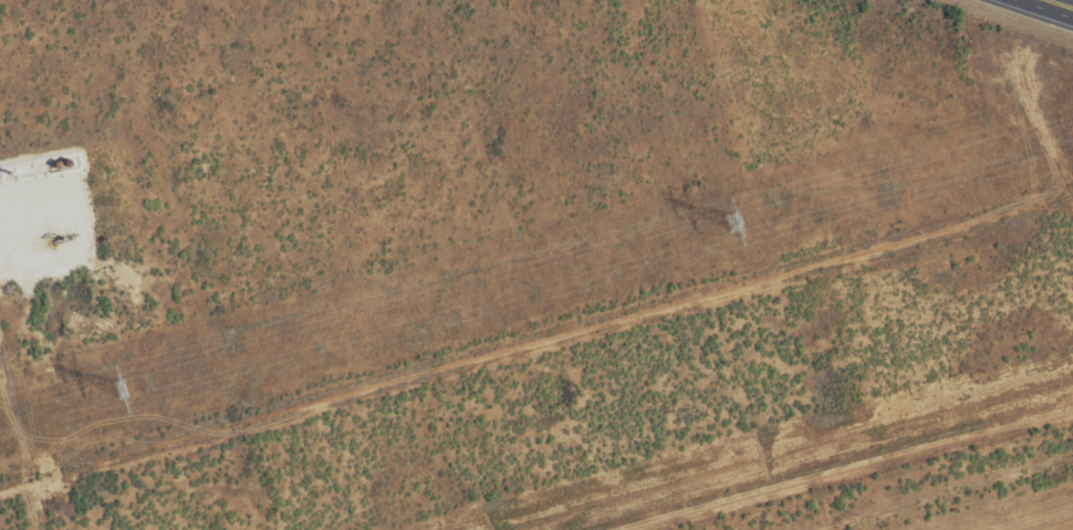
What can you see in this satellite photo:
road: (1055, 6)
power tower: (730, 222)
power tower: (116, 389)

